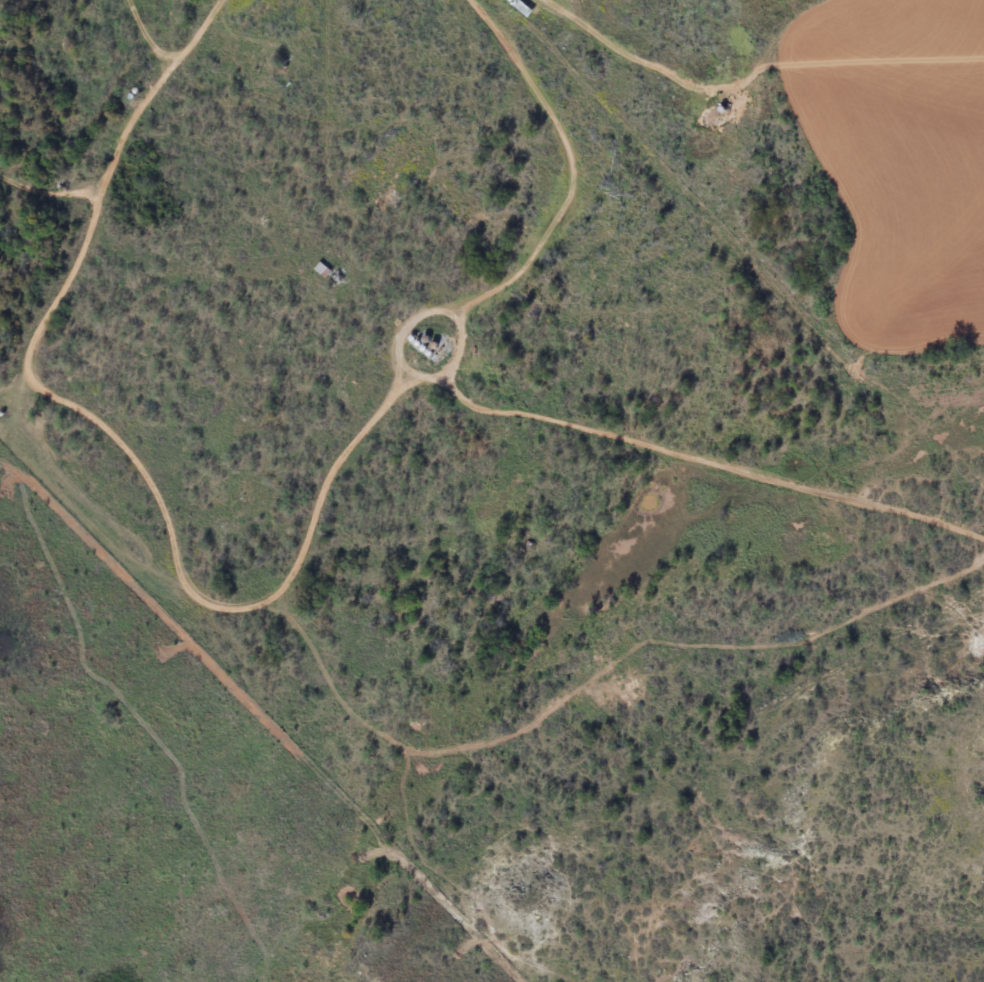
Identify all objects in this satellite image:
building: (522, 8)

